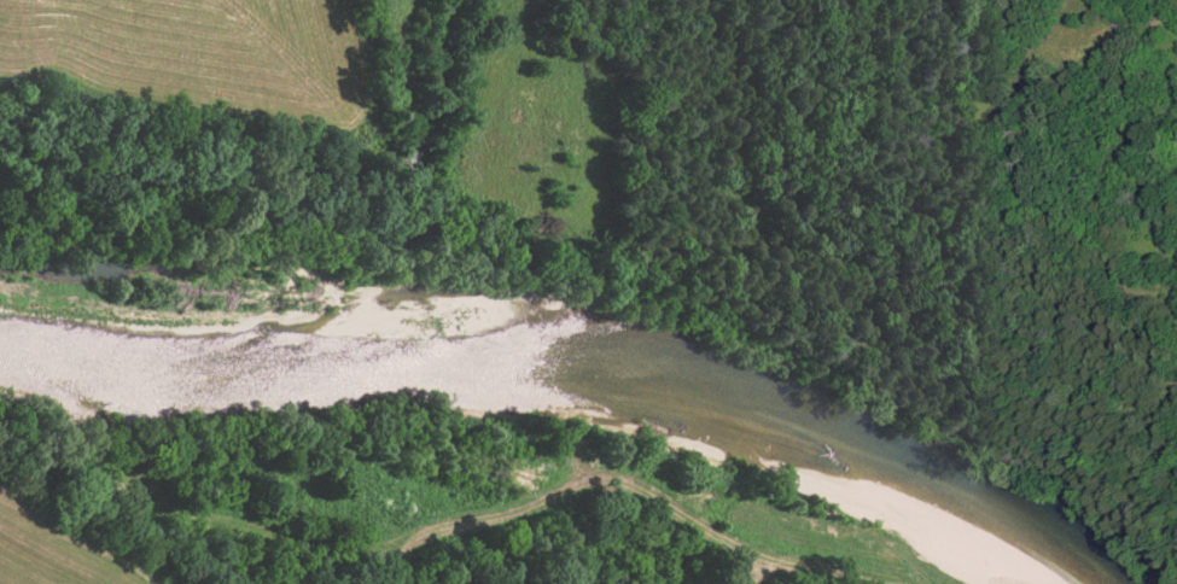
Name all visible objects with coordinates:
river: (577, 382)

